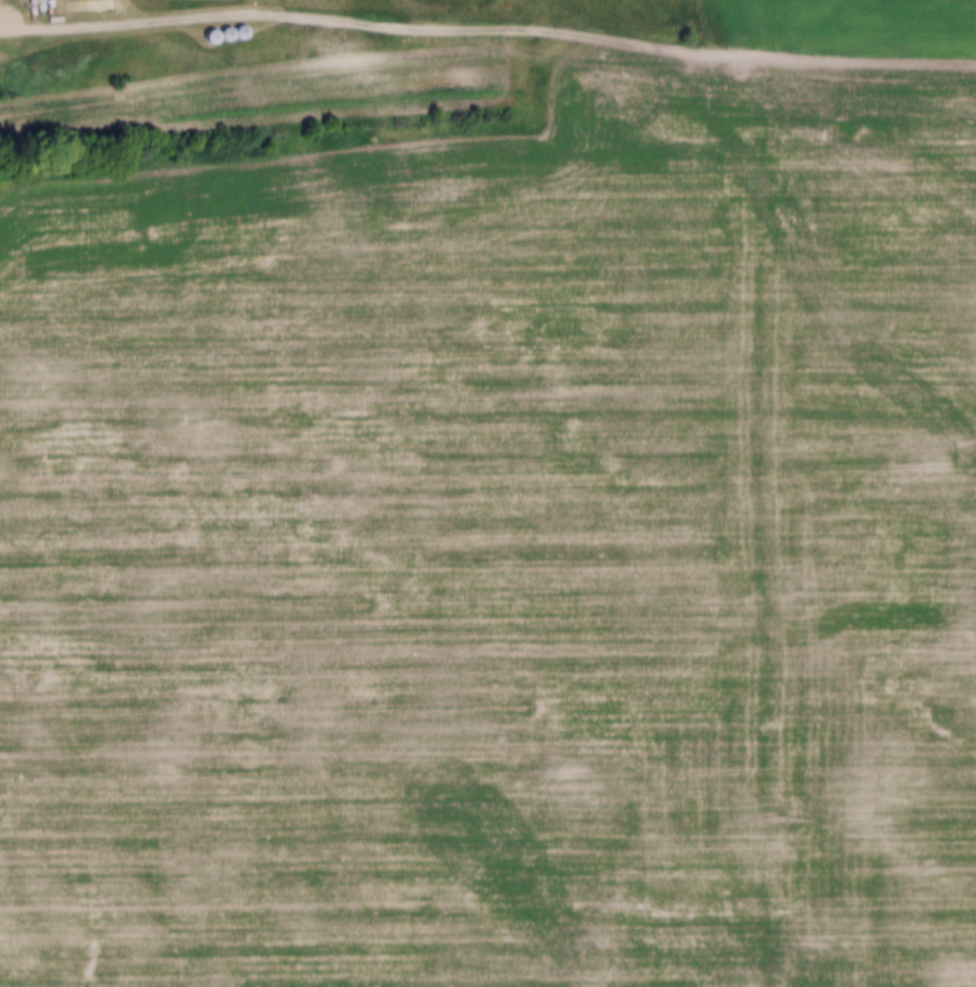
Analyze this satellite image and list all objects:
road: (106, 18)
building: (232, 24)
building: (218, 25)
building: (203, 29)
road: (594, 29)

